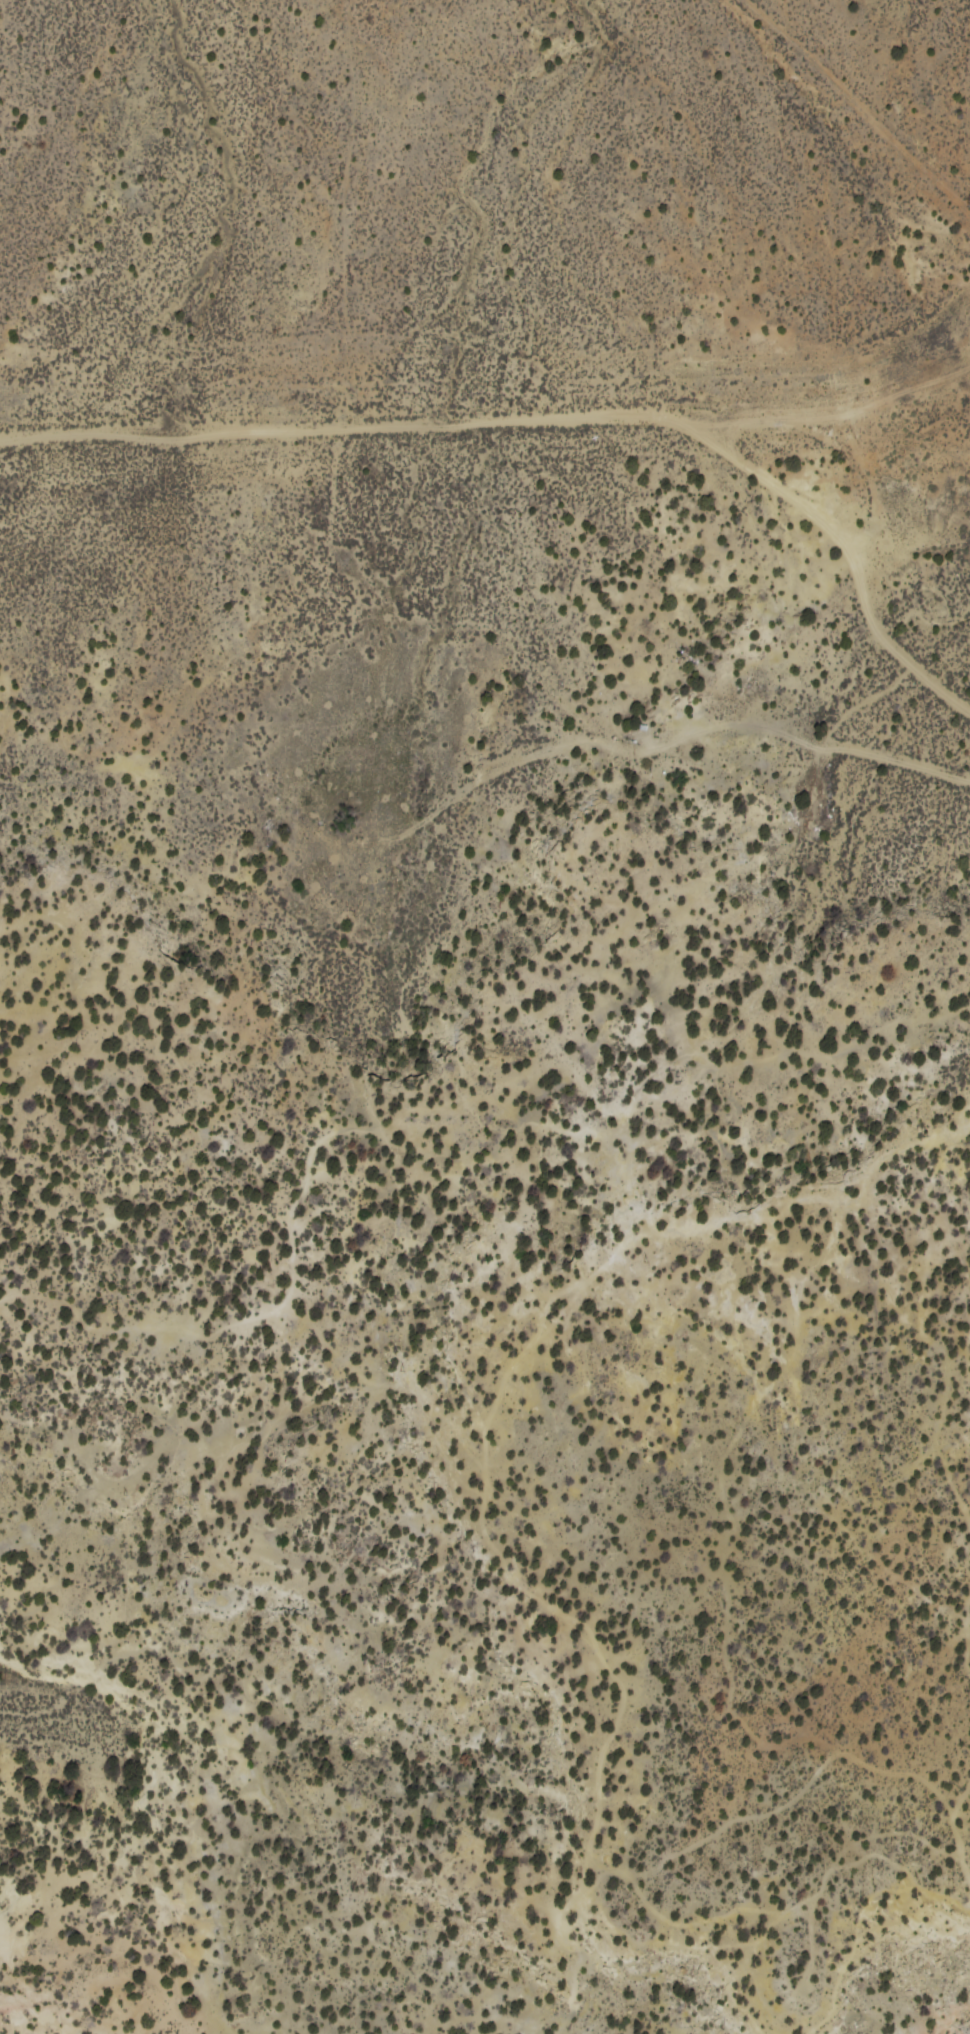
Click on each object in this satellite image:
power tower: (969, 201)
road: (550, 419)

